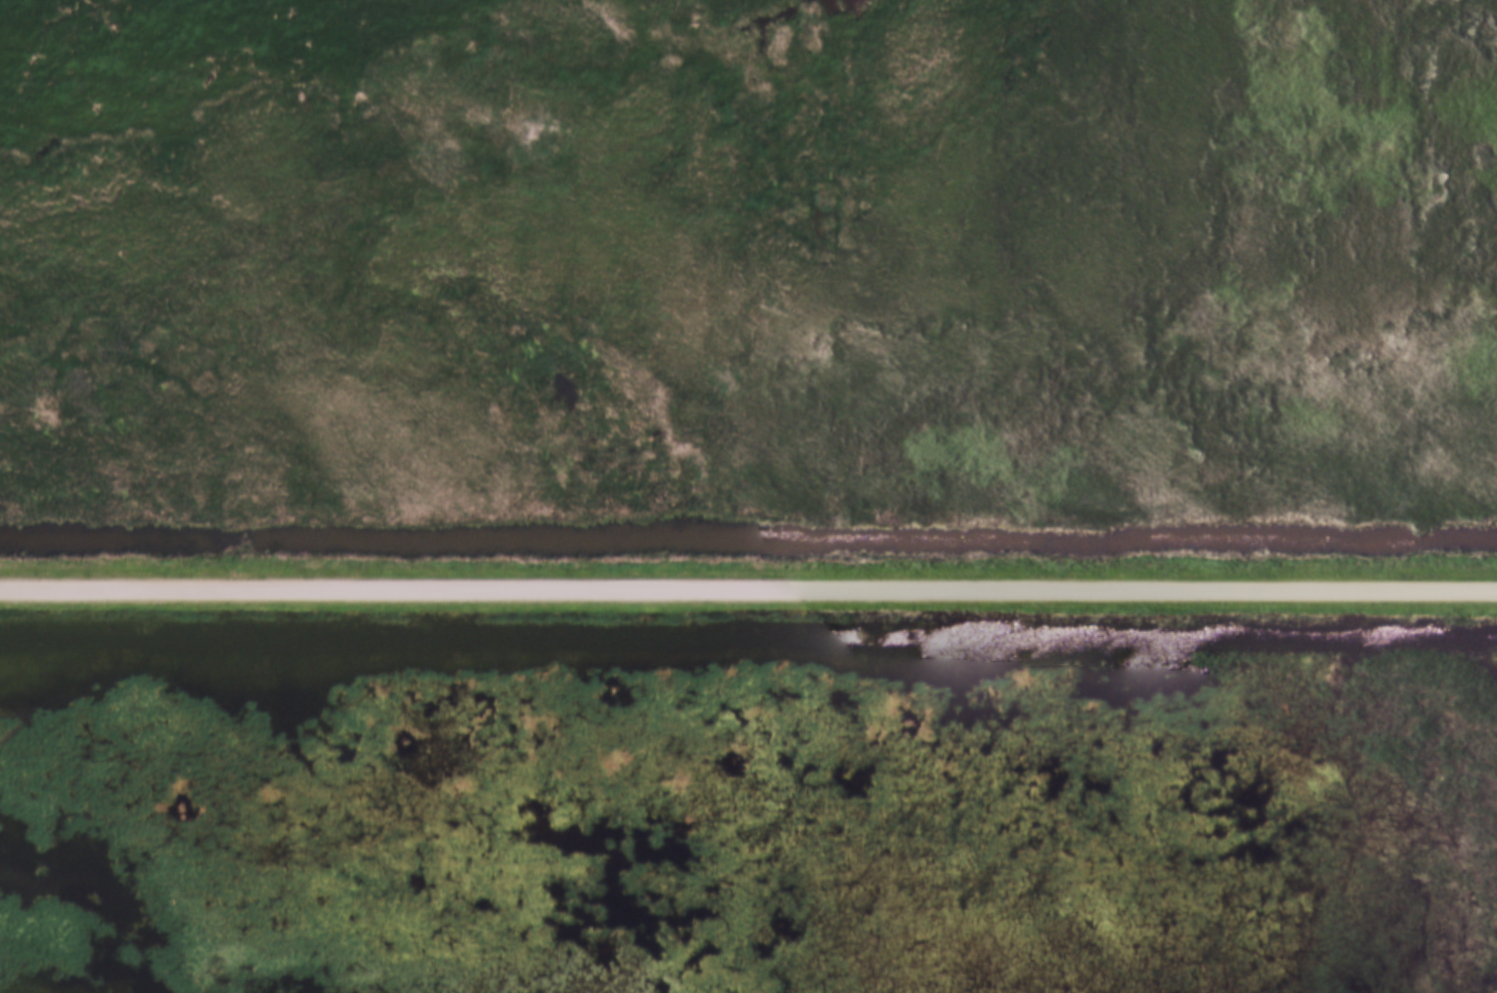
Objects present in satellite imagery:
road: (748, 588)

